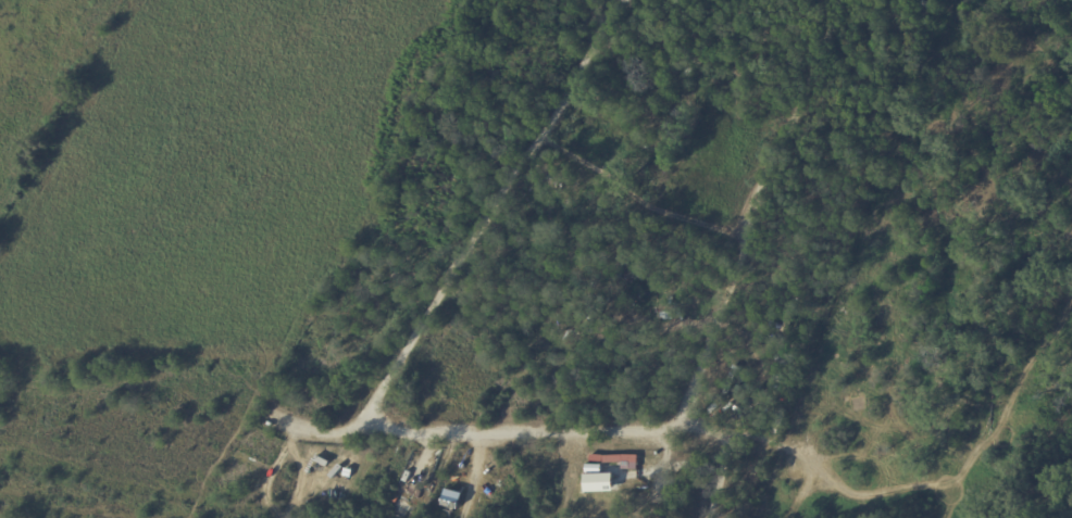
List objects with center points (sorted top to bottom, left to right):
building: (785, 61)
park: (110, 178)
road: (755, 216)
road: (489, 218)
building: (669, 315)
road: (519, 435)
building: (452, 497)

